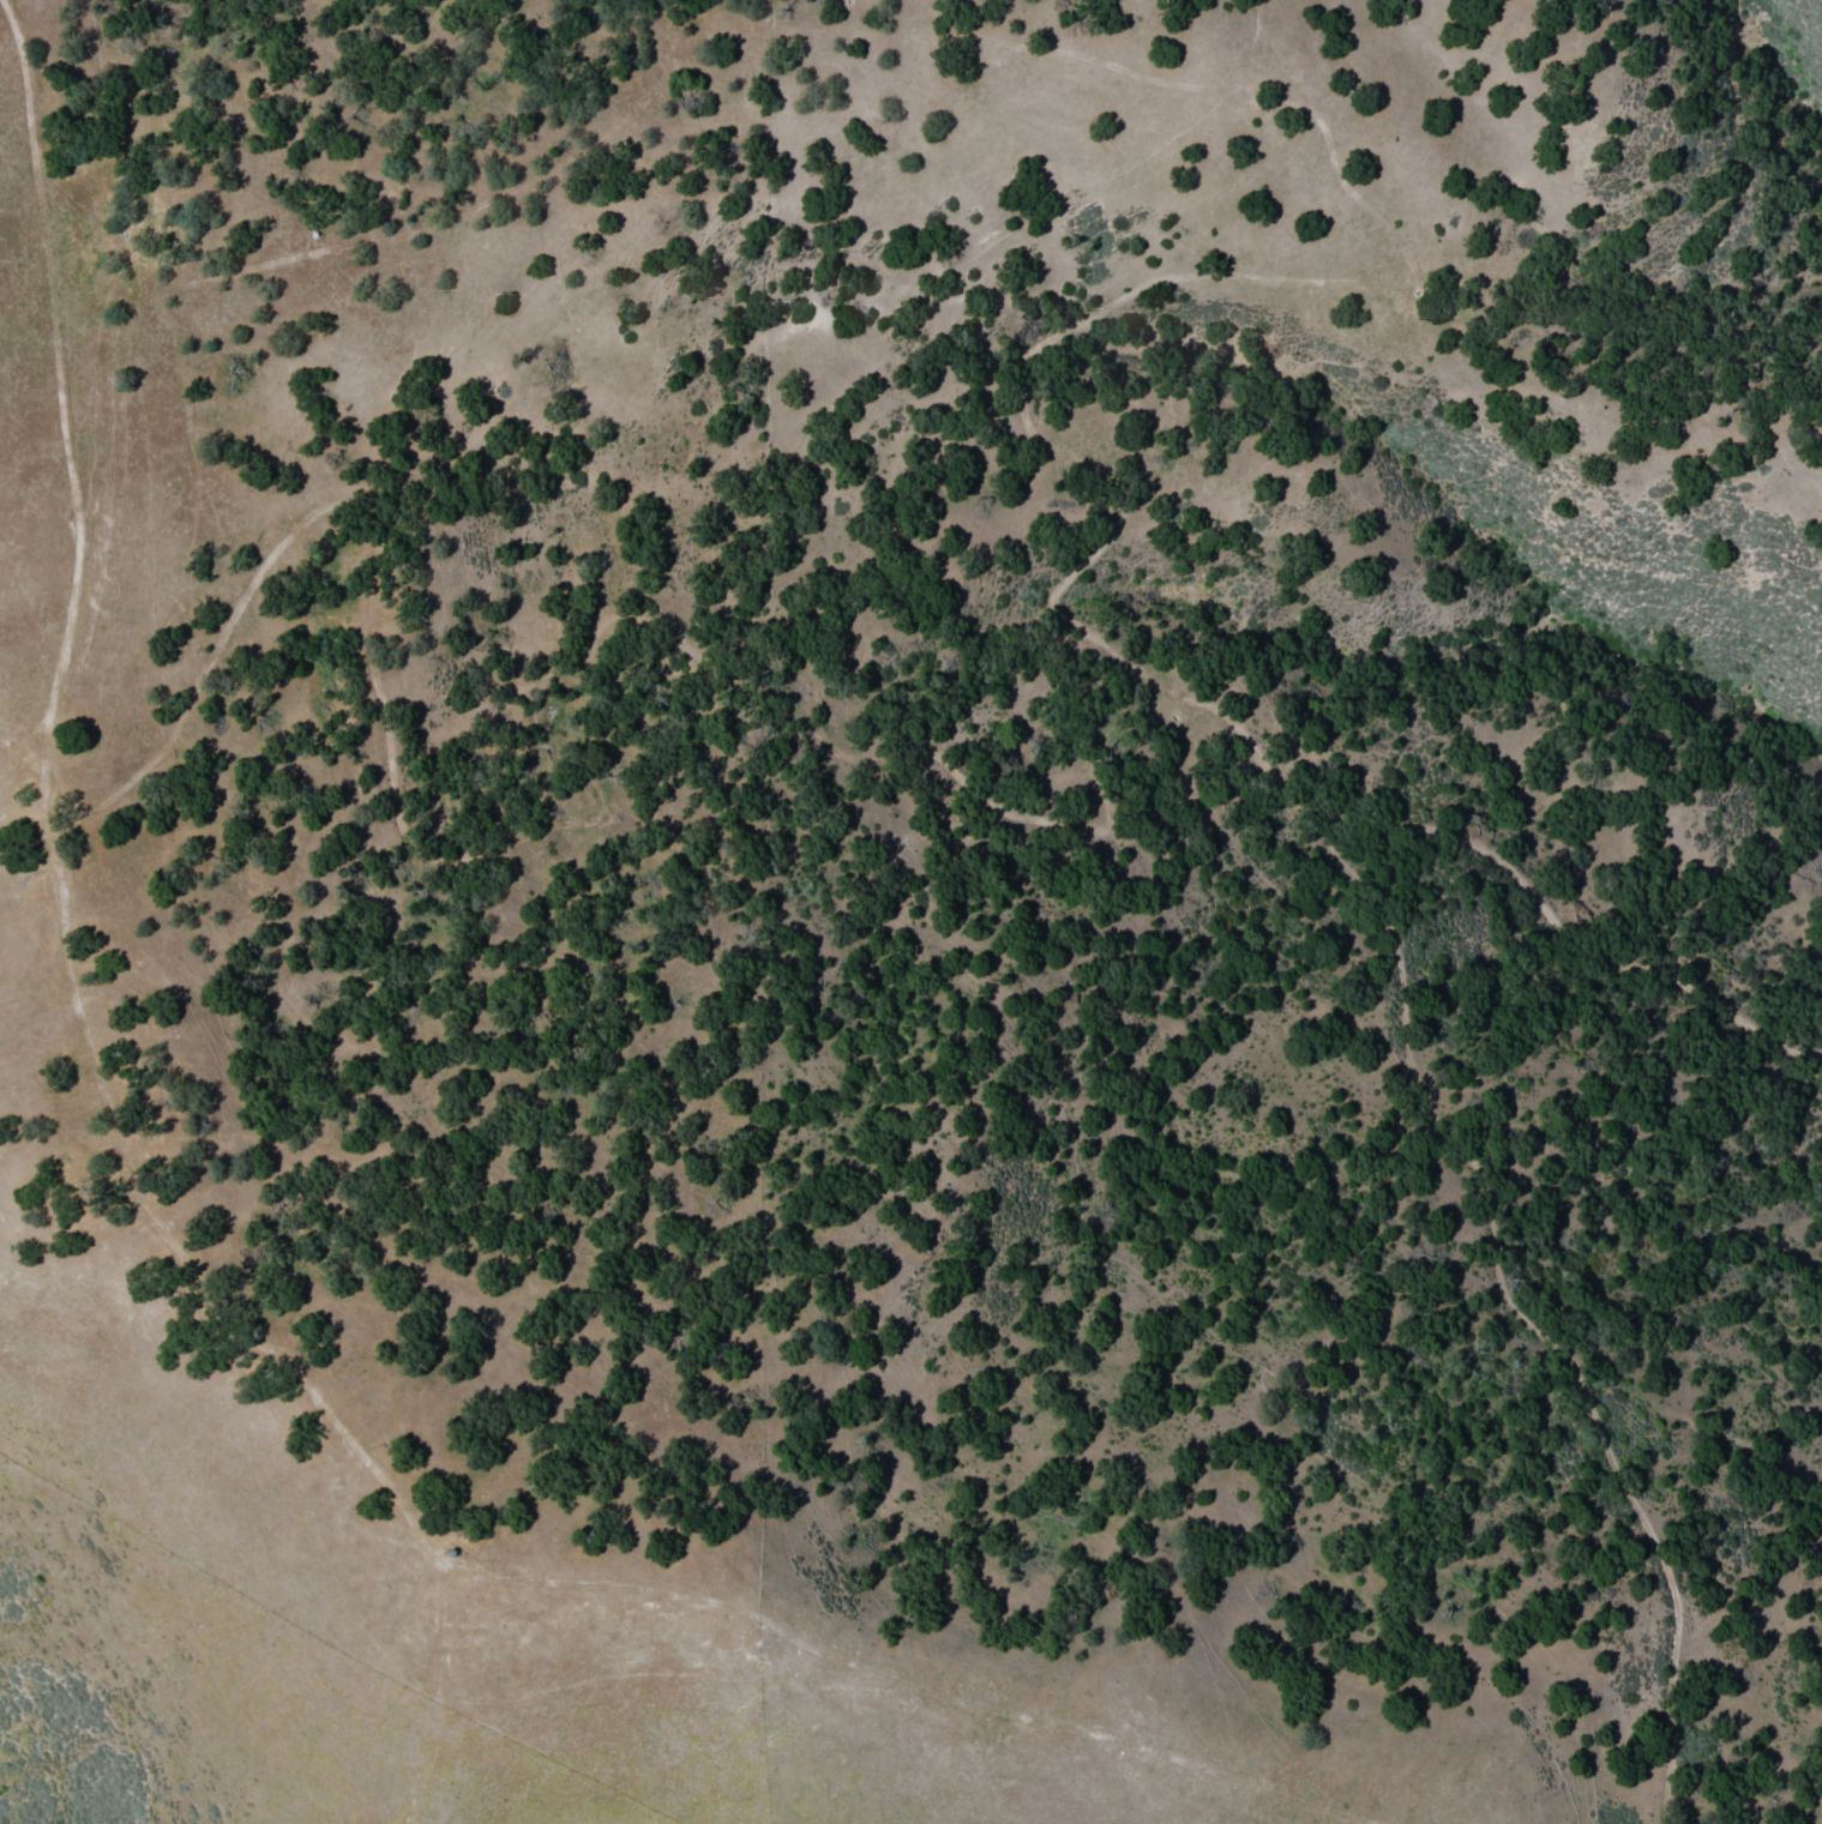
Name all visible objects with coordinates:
road: (1511, 881)
road: (1513, 1322)

